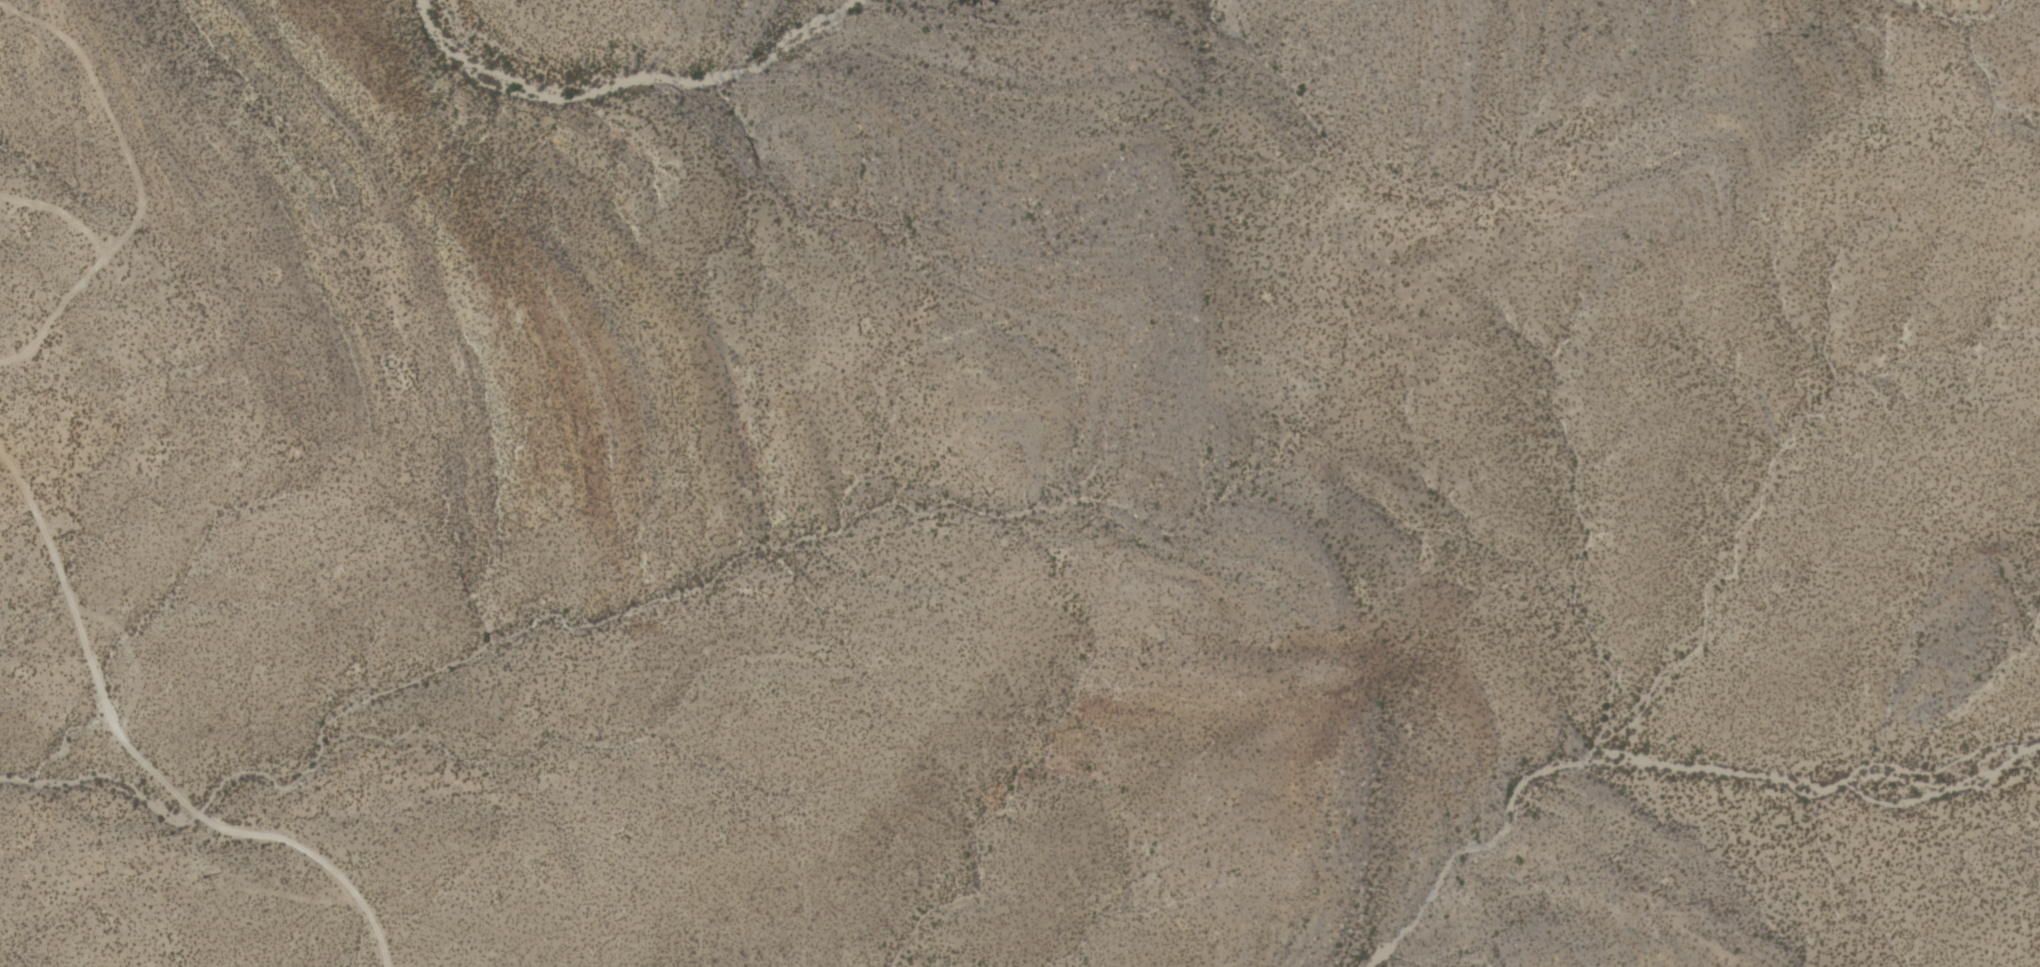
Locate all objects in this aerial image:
power tower: (62, 533)
road: (140, 761)
power tower: (201, 879)

